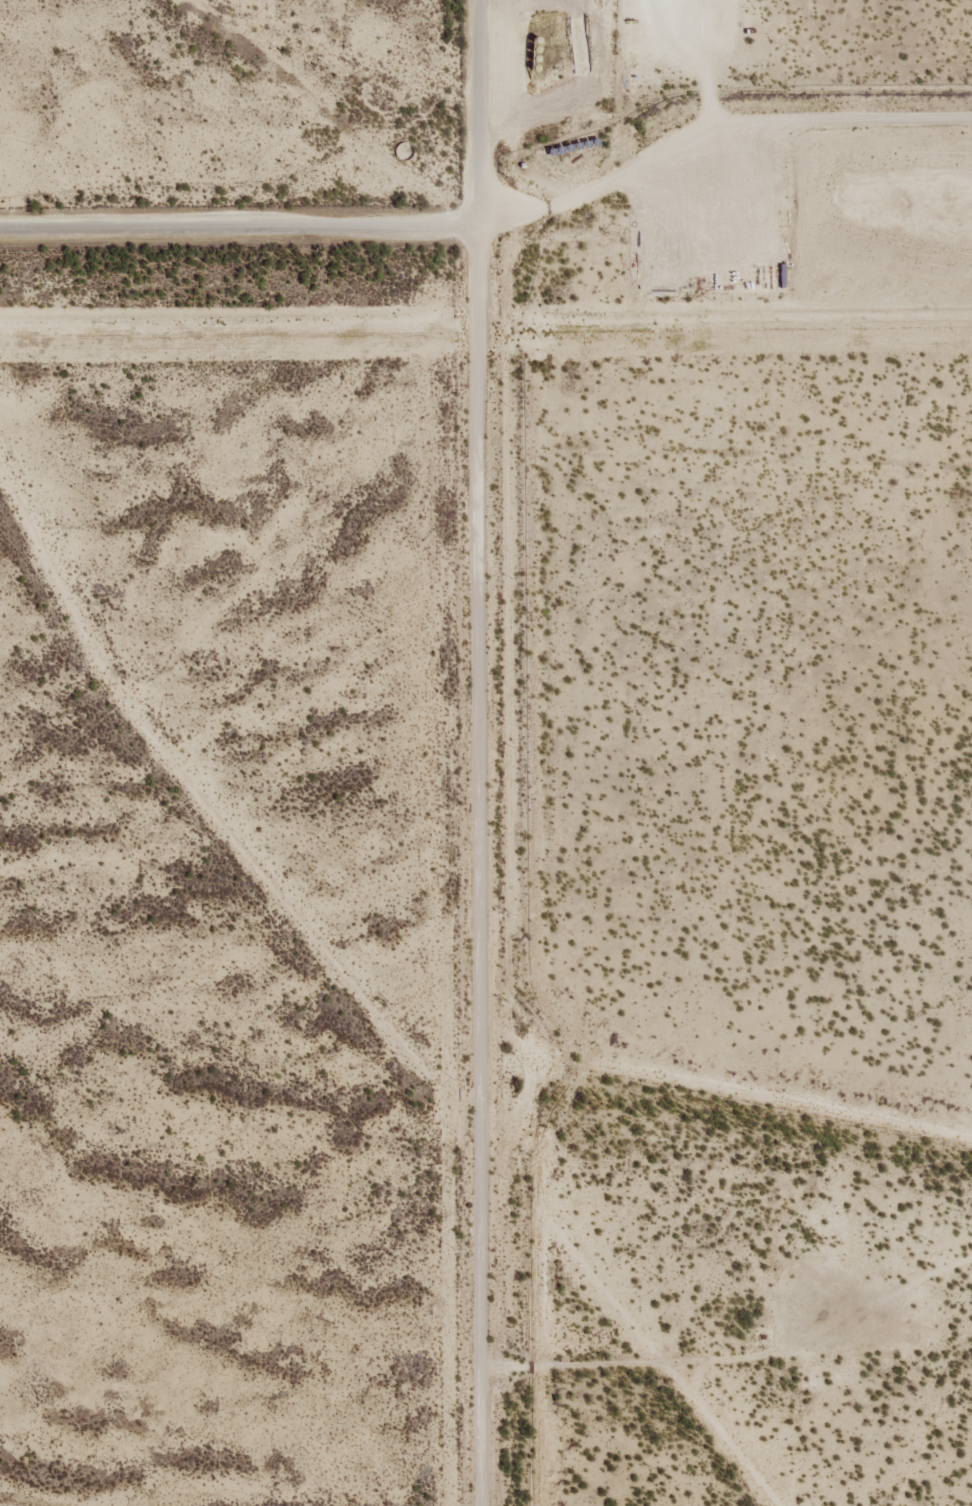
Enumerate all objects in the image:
road: (463, 92)
road: (704, 94)
road: (228, 222)
road: (455, 844)

